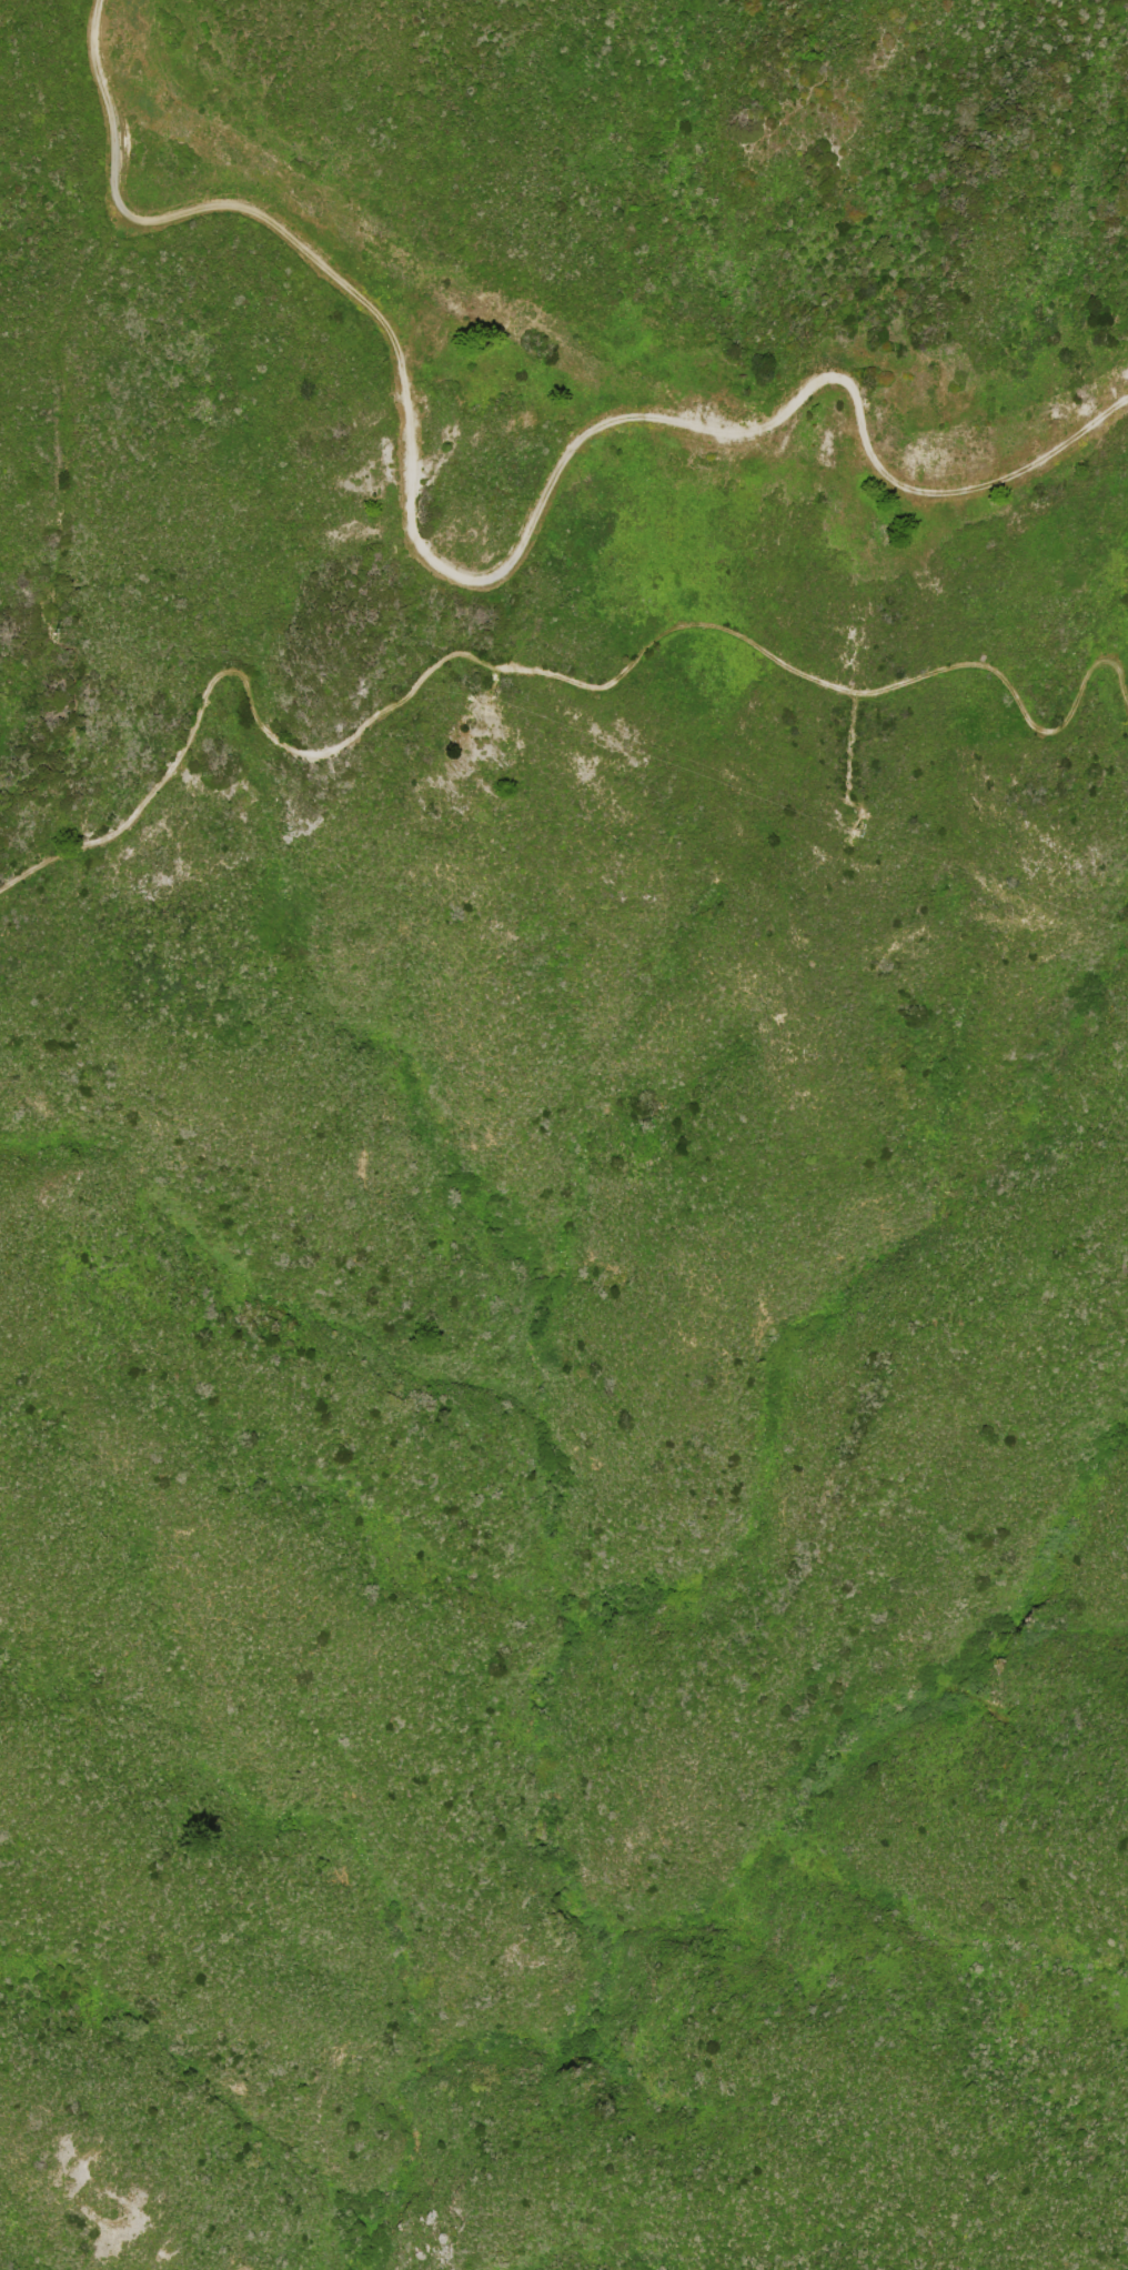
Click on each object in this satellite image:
road: (487, 577)
road: (534, 670)
park: (563, 1443)

